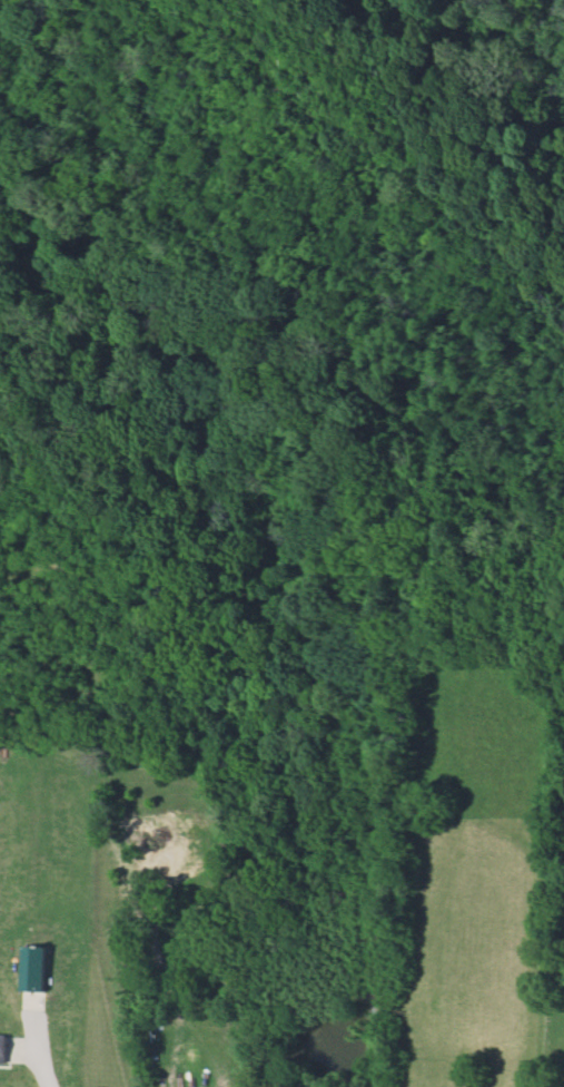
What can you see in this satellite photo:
crop: (50, 834)
crop: (471, 881)
building: (36, 968)
road: (39, 1046)
building: (3, 1048)

